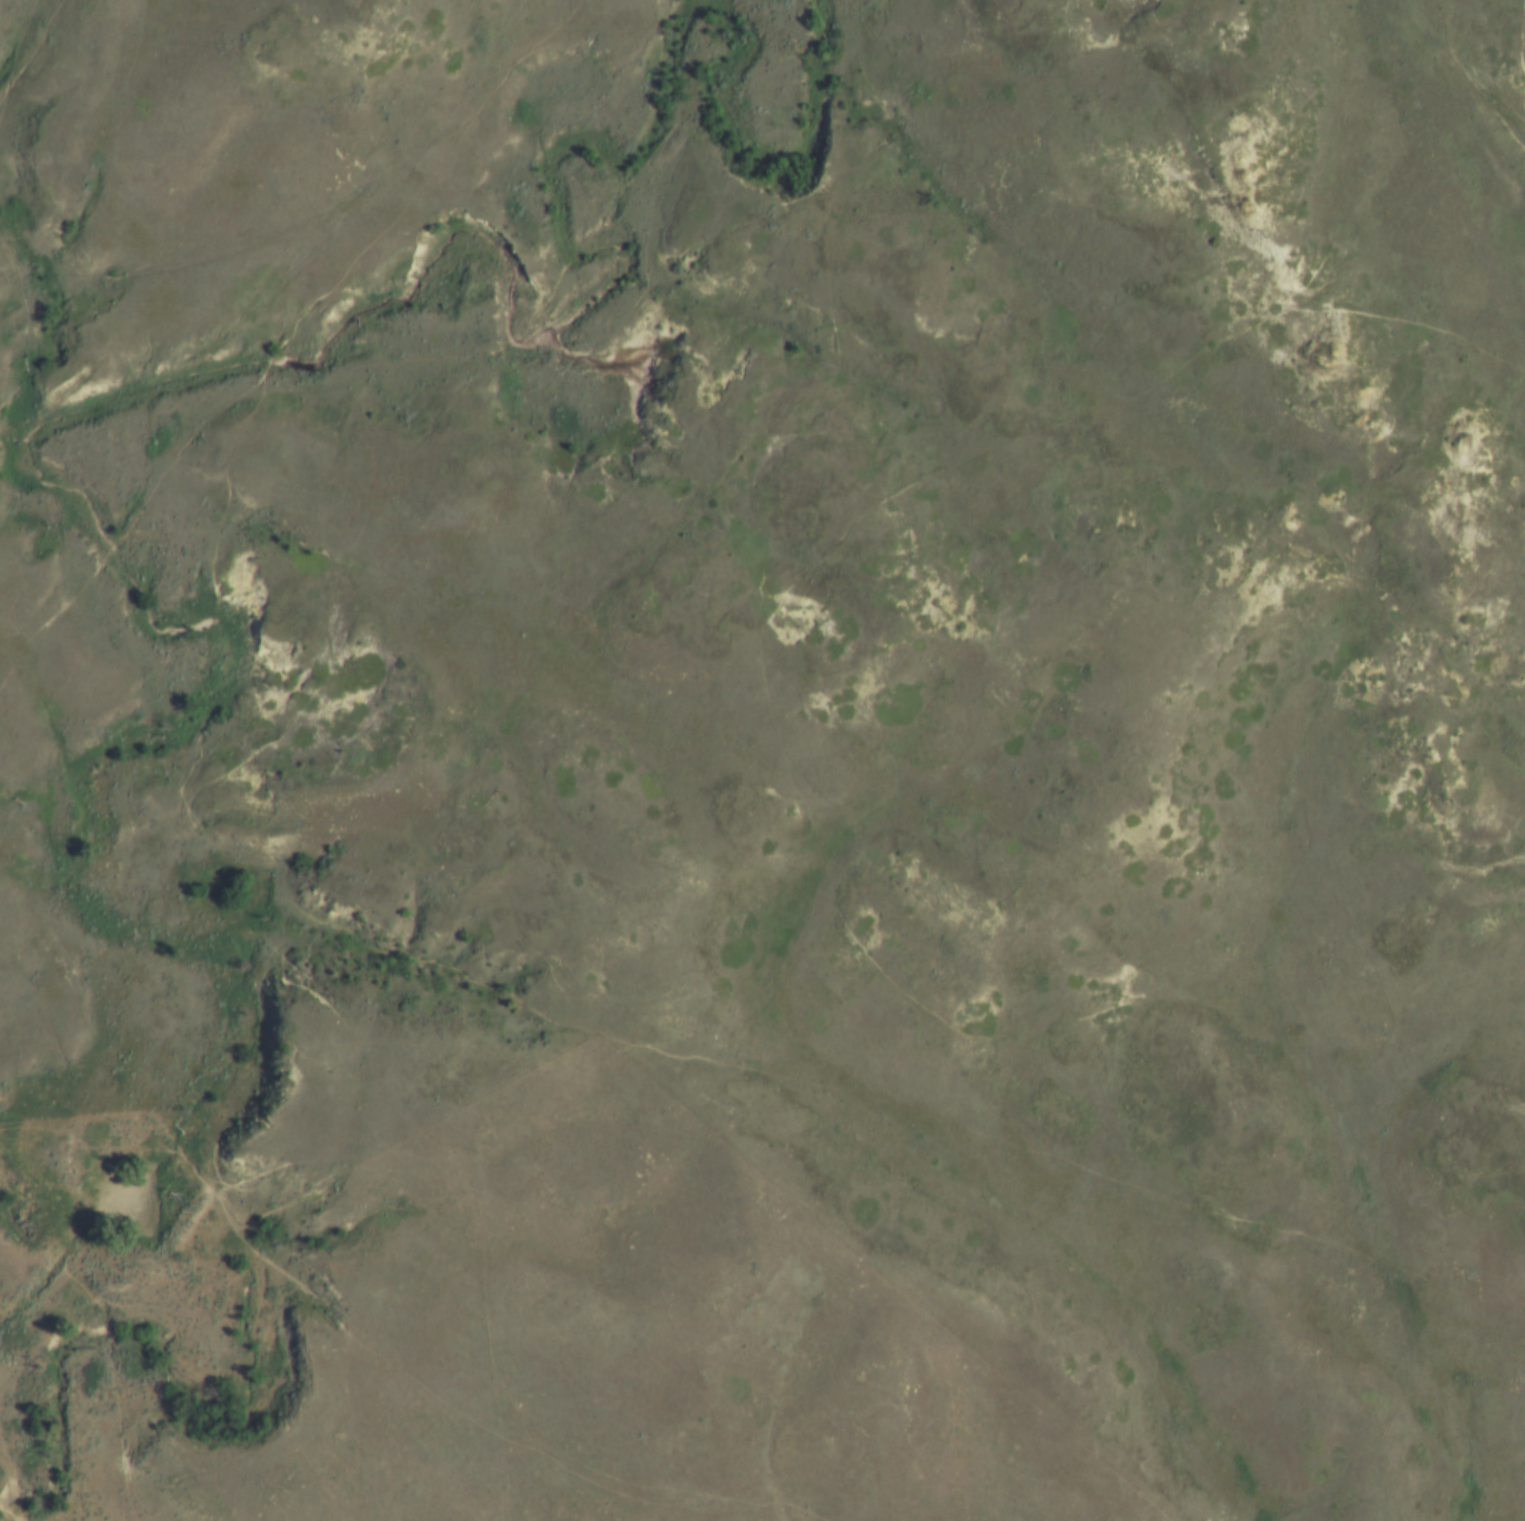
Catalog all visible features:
road: (215, 1494)

